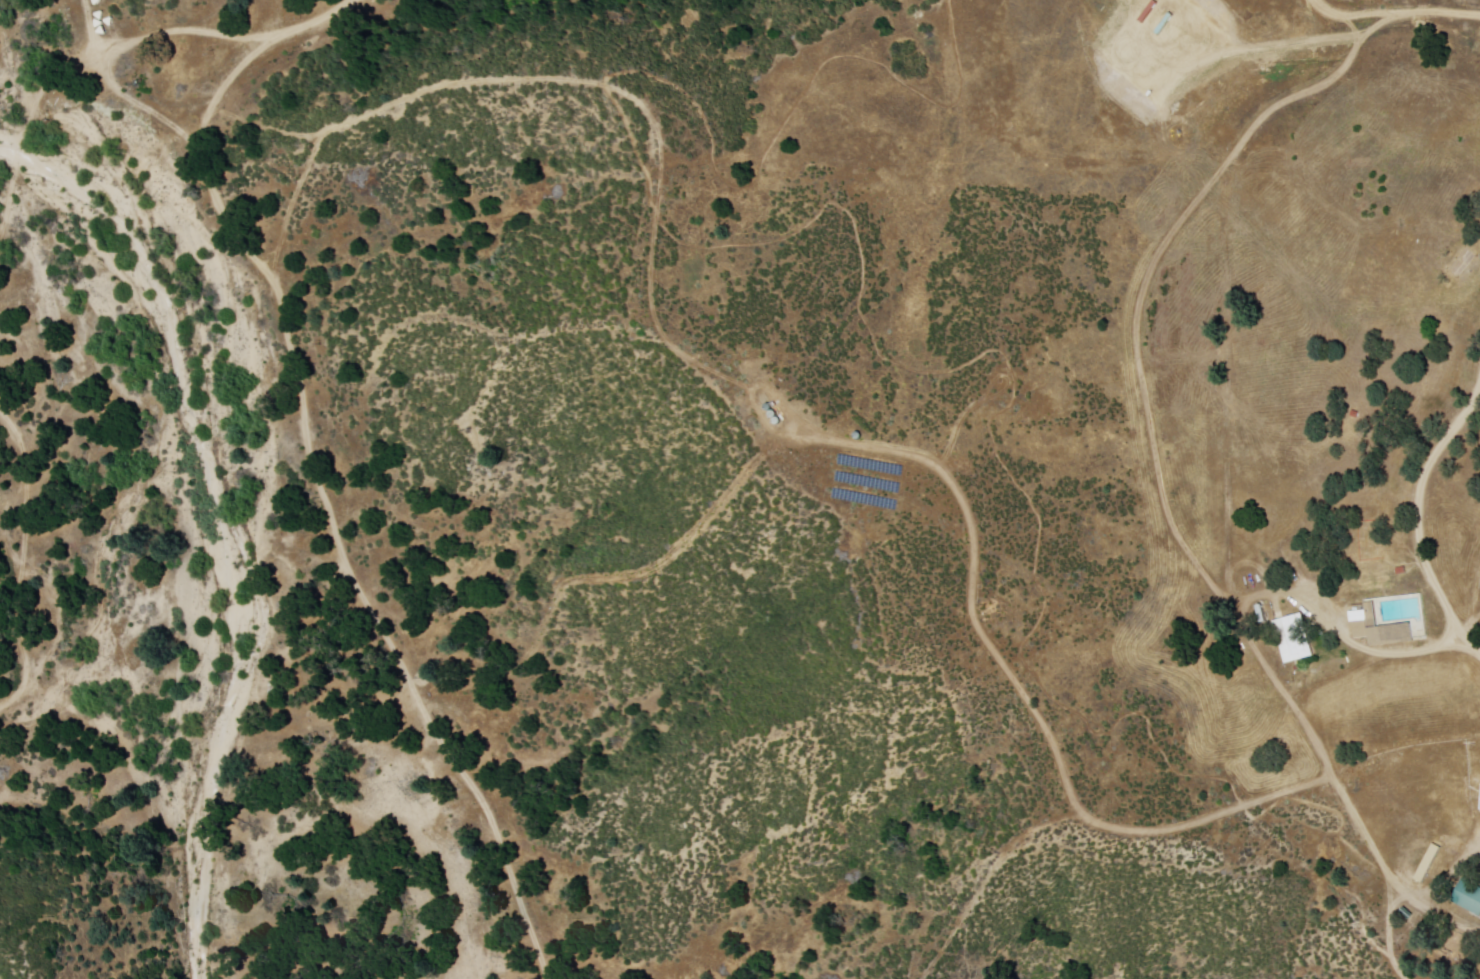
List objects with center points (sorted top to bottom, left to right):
road: (1402, 8)
road: (179, 85)
road: (31, 129)
building: (1186, 429)
road: (314, 480)
road: (1419, 522)
road: (22, 562)
building: (1388, 622)
building: (1293, 640)
building: (1471, 897)

